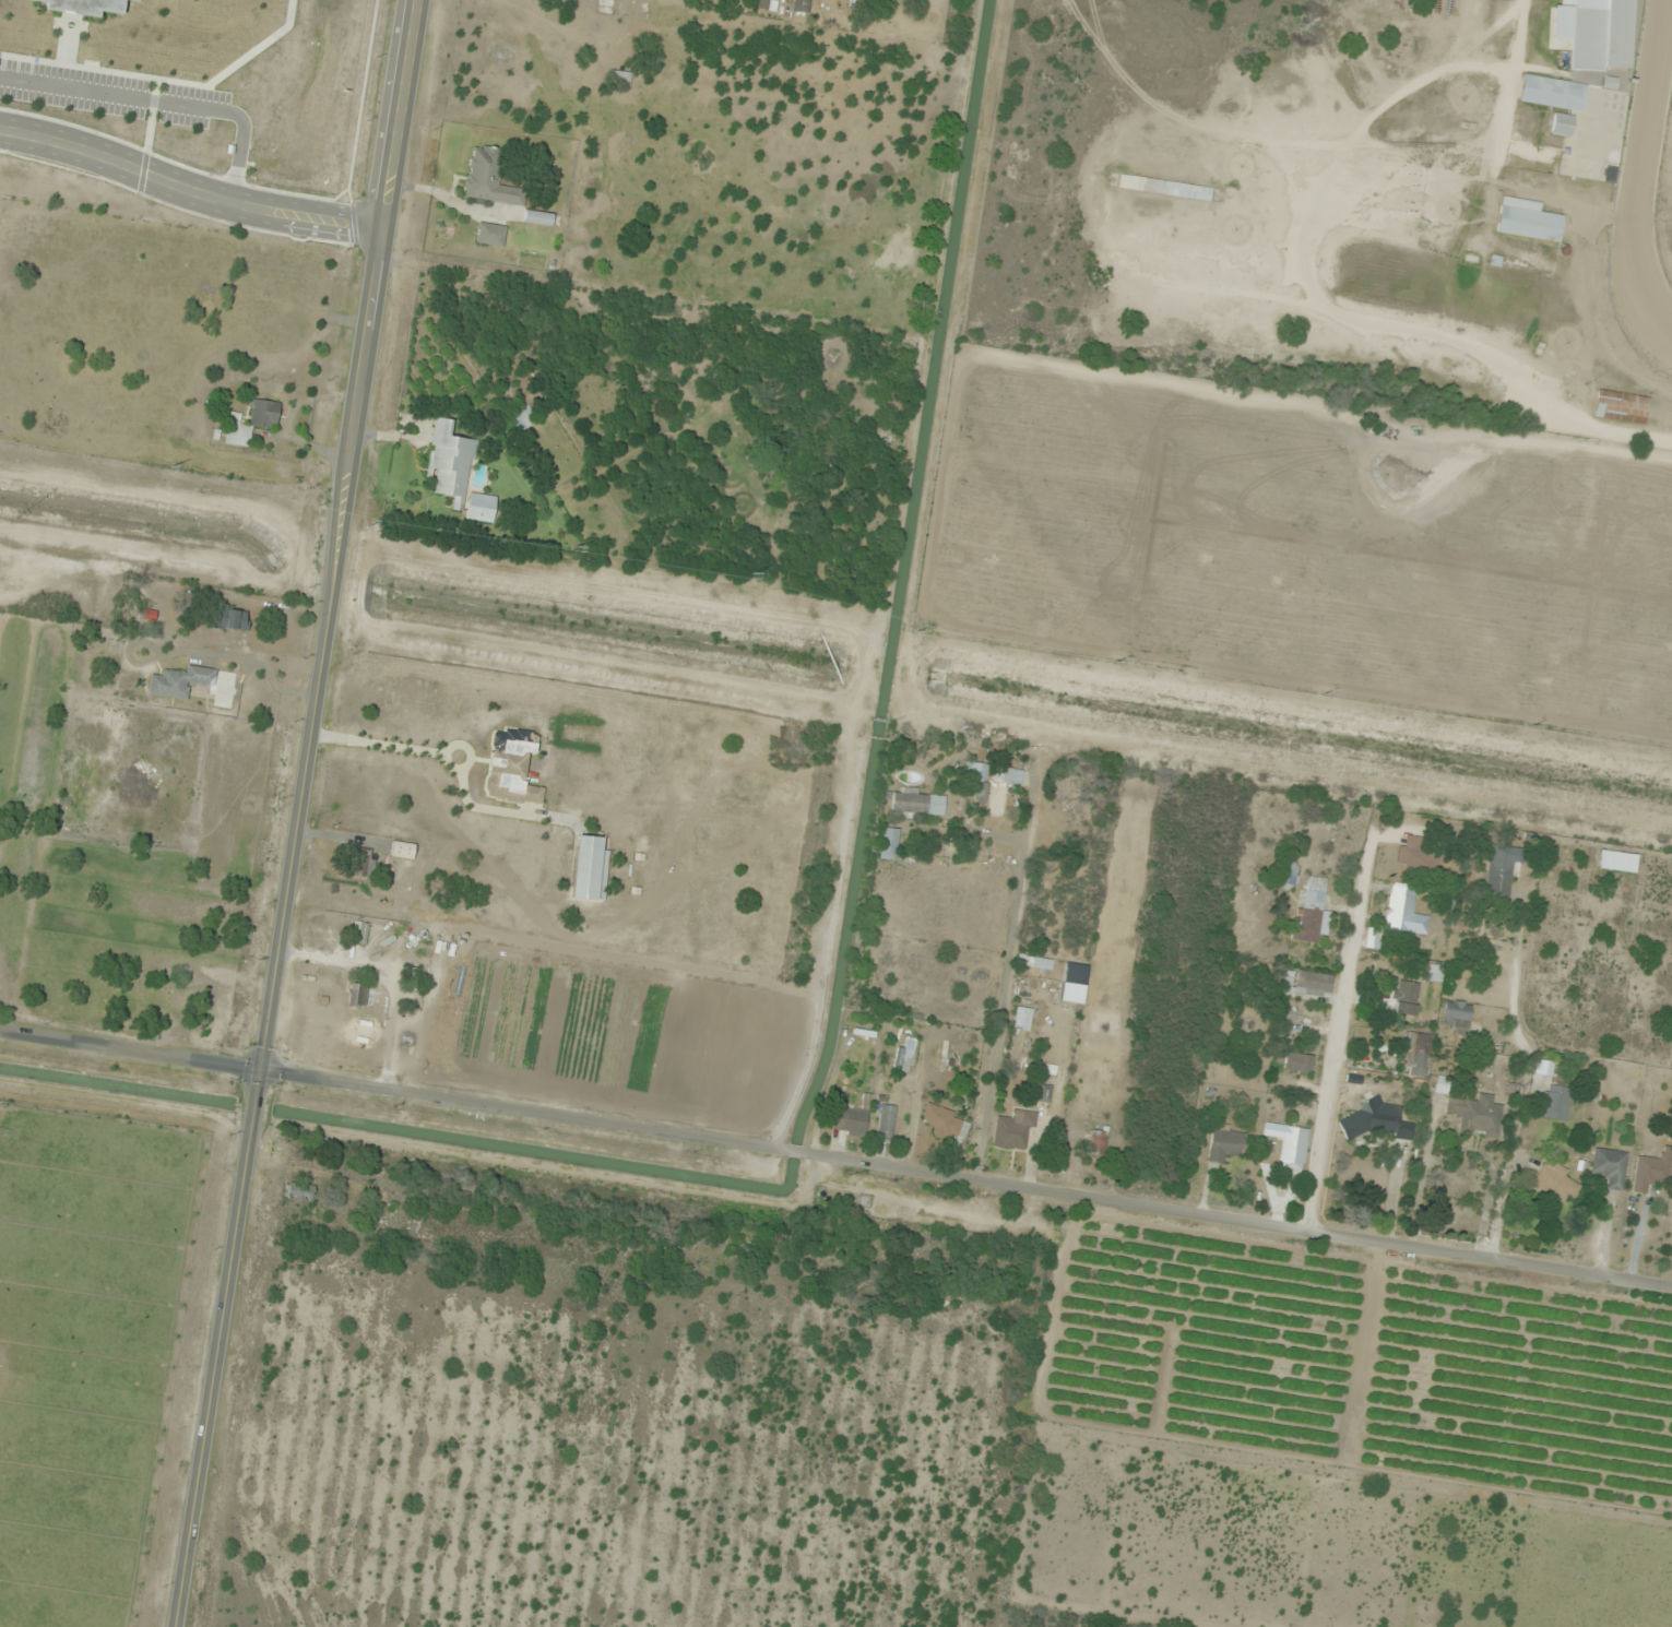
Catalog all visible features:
building: (86, 5)
building: (801, 5)
building: (617, 9)
building: (1599, 35)
building: (620, 79)
building: (1553, 93)
road: (163, 104)
building: (1562, 124)
building: (489, 179)
road: (187, 188)
building: (1164, 189)
building: (538, 218)
building: (1528, 221)
building: (490, 235)
road: (1300, 277)
building: (1621, 407)
building: (522, 420)
building: (252, 423)
building: (449, 465)
building: (1532, 542)
building: (230, 618)
building: (195, 685)
building: (512, 768)
building: (975, 774)
building: (1003, 794)
building: (916, 801)
road: (298, 813)
building: (888, 843)
building: (403, 851)
building: (1412, 857)
building: (1617, 862)
building: (363, 865)
building: (590, 869)
building: (1502, 869)
building: (1289, 877)
building: (1313, 910)
building: (1404, 912)
building: (1035, 963)
building: (1435, 973)
building: (1075, 974)
building: (414, 976)
building: (1311, 985)
building: (363, 995)
building: (1406, 998)
building: (1291, 1013)
building: (1457, 1014)
building: (1022, 1019)
road: (1337, 1035)
road: (131, 1052)
building: (1421, 1055)
building: (903, 1059)
building: (1299, 1064)
building: (1556, 1103)
building: (1478, 1115)
building: (850, 1121)
building: (886, 1121)
building: (942, 1123)
building: (1383, 1125)
building: (1013, 1130)
building: (1226, 1143)
building: (1096, 1144)
building: (1290, 1144)
building: (1610, 1167)
building: (1651, 1173)
road: (968, 1174)
building: (1556, 1183)
building: (300, 1192)

